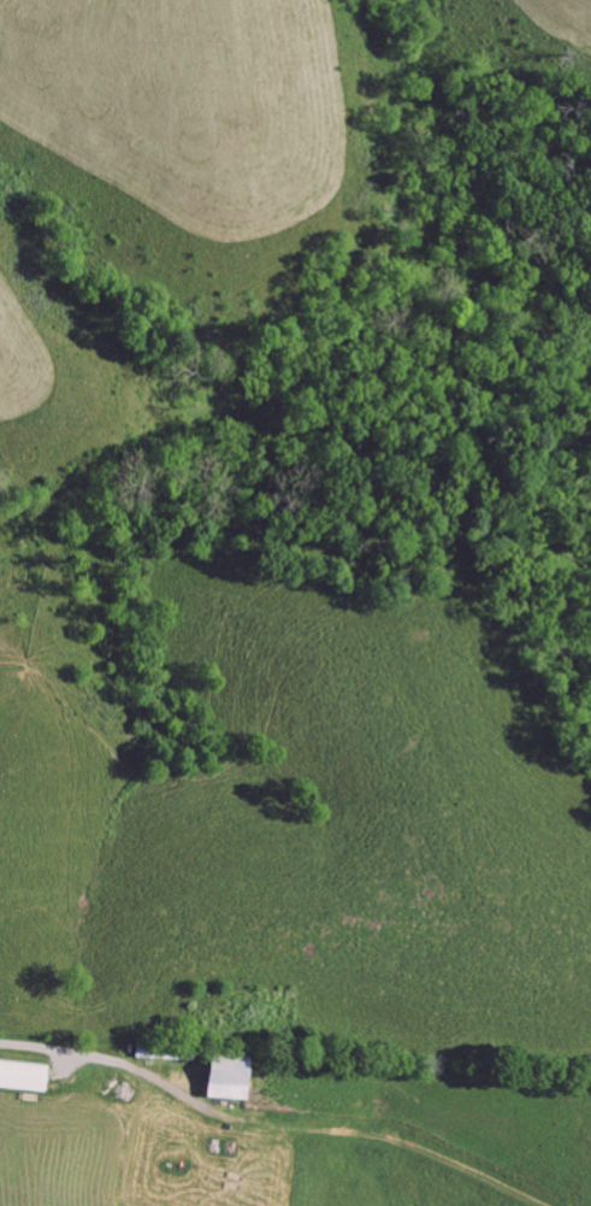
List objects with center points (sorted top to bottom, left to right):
road: (107, 1055)
building: (20, 1076)
building: (224, 1077)

